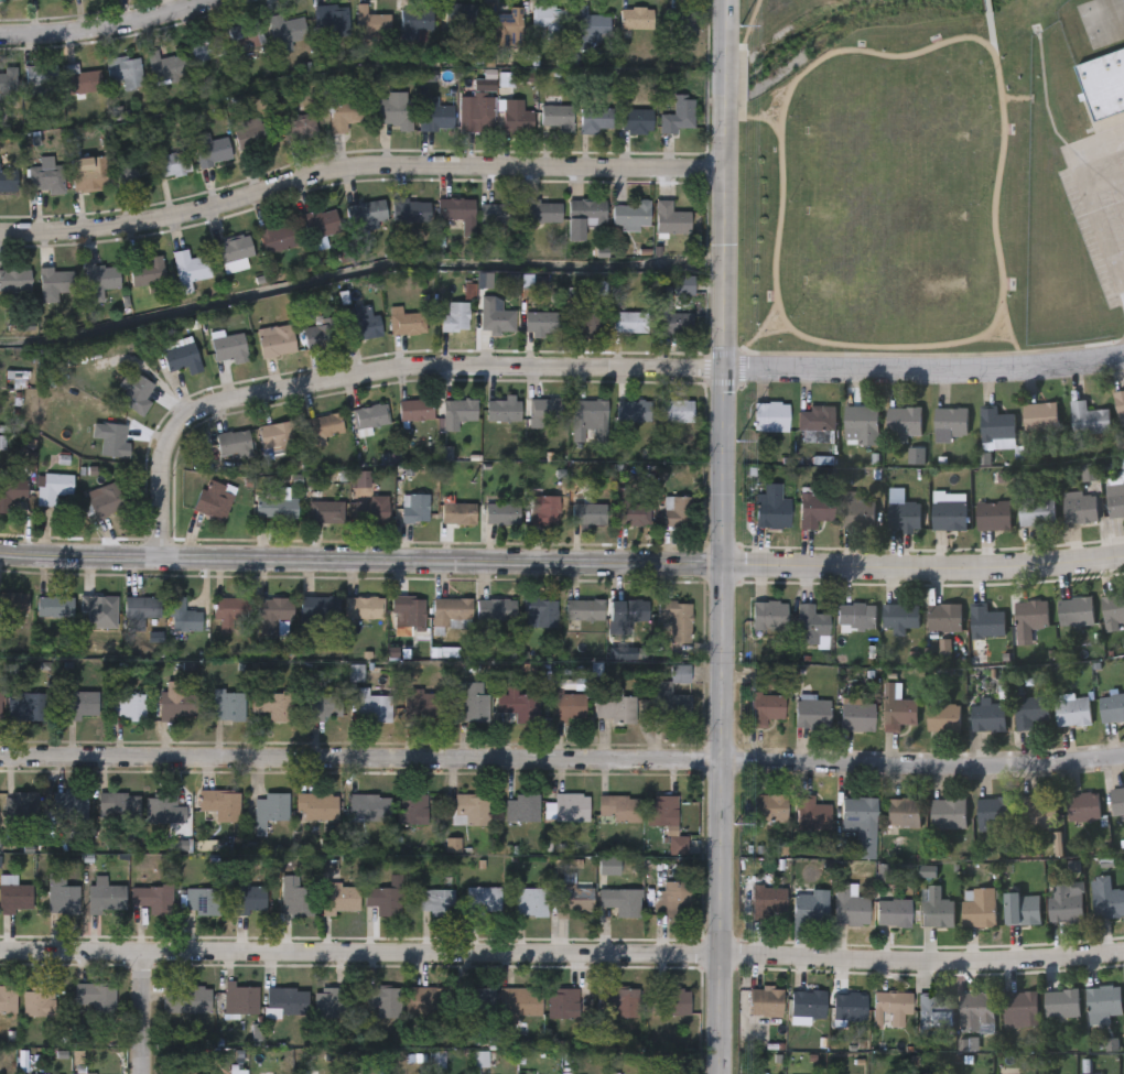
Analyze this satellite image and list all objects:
building: (9, 0)
road: (986, 4)
building: (458, 15)
building: (638, 19)
building: (331, 21)
building: (549, 21)
building: (500, 23)
road: (988, 23)
building: (370, 24)
building: (415, 24)
building: (680, 25)
building: (591, 26)
road: (110, 30)
building: (284, 33)
power tower: (738, 35)
building: (245, 36)
road: (850, 48)
building: (205, 50)
road: (744, 56)
building: (164, 68)
building: (126, 72)
building: (8, 80)
building: (41, 80)
building: (80, 82)
building: (1103, 84)
building: (1069, 111)
building: (395, 113)
building: (477, 113)
building: (344, 115)
building: (679, 116)
building: (436, 118)
building: (514, 118)
building: (556, 118)
building: (595, 121)
building: (636, 121)
building: (301, 128)
building: (252, 137)
road: (1115, 137)
building: (1084, 151)
building: (212, 153)
building: (171, 164)
road: (1115, 166)
building: (129, 173)
building: (88, 174)
road: (357, 174)
park: (884, 175)
building: (46, 178)
building: (8, 182)
road: (724, 184)
road: (995, 191)
road: (1090, 203)
building: (410, 210)
building: (454, 210)
building: (542, 213)
building: (366, 214)
building: (498, 215)
building: (630, 215)
building: (585, 218)
building: (671, 219)
building: (321, 224)
building: (277, 238)
road: (777, 240)
building: (234, 252)
building: (190, 267)
building: (148, 272)
building: (15, 280)
building: (56, 281)
building: (100, 282)
road: (1122, 284)
building: (454, 318)
building: (495, 318)
building: (587, 319)
building: (672, 319)
building: (629, 323)
building: (363, 324)
building: (542, 324)
building: (408, 325)
road: (776, 330)
building: (321, 336)
road: (875, 336)
road: (1012, 337)
building: (275, 340)
building: (229, 348)
building: (182, 357)
road: (922, 369)
road: (375, 371)
building: (137, 395)
building: (1118, 404)
building: (545, 410)
building: (415, 411)
building: (502, 411)
building: (633, 412)
building: (676, 412)
building: (457, 413)
building: (1039, 415)
building: (769, 416)
building: (371, 417)
building: (1087, 417)
building: (815, 419)
building: (950, 420)
building: (588, 421)
building: (903, 422)
building: (861, 423)
building: (324, 426)
building: (995, 427)
power tower: (736, 434)
building: (275, 436)
building: (114, 441)
building: (234, 444)
building: (53, 489)
building: (1115, 491)
building: (11, 493)
building: (105, 501)
building: (214, 501)
building: (771, 507)
building: (812, 507)
building: (1078, 507)
building: (277, 509)
building: (631, 509)
building: (414, 510)
building: (948, 510)
building: (371, 511)
building: (544, 511)
building: (855, 511)
building: (1036, 511)
building: (677, 512)
building: (325, 513)
building: (903, 513)
building: (458, 514)
building: (501, 514)
building: (588, 514)
building: (992, 514)
road: (562, 565)
building: (13, 605)
building: (1113, 607)
building: (54, 608)
building: (364, 609)
building: (495, 610)
building: (1074, 610)
building: (140, 611)
building: (230, 611)
building: (584, 611)
building: (628, 611)
building: (318, 612)
building: (408, 612)
building: (452, 612)
building: (540, 614)
building: (768, 614)
building: (94, 615)
building: (272, 615)
building: (1030, 615)
building: (855, 616)
building: (897, 616)
building: (183, 617)
building: (942, 617)
building: (985, 620)
building: (677, 621)
building: (810, 623)
building: (472, 702)
building: (179, 705)
building: (80, 706)
building: (127, 706)
building: (228, 706)
building: (273, 706)
building: (422, 706)
building: (764, 706)
building: (1111, 706)
building: (325, 707)
building: (670, 707)
building: (896, 707)
building: (0, 708)
building: (28, 708)
building: (374, 708)
building: (517, 708)
building: (1027, 708)
building: (568, 709)
building: (614, 709)
building: (1071, 710)
building: (811, 713)
building: (856, 716)
building: (942, 716)
building: (987, 716)
road: (720, 720)
road: (562, 762)
building: (1116, 800)
building: (221, 805)
building: (769, 806)
building: (1082, 806)
building: (119, 807)
building: (72, 809)
building: (273, 809)
building: (317, 809)
building: (369, 809)
building: (21, 810)
building: (522, 810)
building: (572, 810)
building: (619, 810)
building: (413, 811)
building: (471, 811)
building: (166, 812)
building: (662, 812)
building: (901, 812)
building: (810, 813)
building: (947, 813)
building: (993, 813)
building: (1034, 816)
building: (858, 820)
power tower: (733, 824)
building: (60, 894)
building: (14, 897)
building: (1105, 897)
building: (114, 899)
building: (341, 899)
building: (152, 900)
building: (672, 900)
building: (296, 901)
building: (383, 901)
building: (483, 901)
building: (574, 901)
building: (1064, 901)
building: (247, 902)
building: (436, 902)
building: (622, 902)
building: (766, 902)
building: (203, 903)
building: (531, 903)
building: (849, 904)
building: (809, 905)
building: (977, 907)
building: (934, 908)
building: (1022, 908)
building: (893, 912)
road: (562, 955)
building: (1, 998)
building: (95, 998)
building: (186, 1000)
building: (240, 1000)
building: (764, 1000)
building: (1102, 1000)
building: (618, 1001)
building: (41, 1002)
building: (328, 1002)
building: (428, 1002)
building: (672, 1002)
building: (1060, 1002)
building: (287, 1004)
building: (385, 1004)
building: (562, 1004)
building: (806, 1004)
building: (519, 1005)
building: (891, 1005)
building: (484, 1006)
building: (849, 1006)
building: (1019, 1008)
building: (975, 1011)
road: (142, 1012)
building: (932, 1013)
building: (752, 1073)

